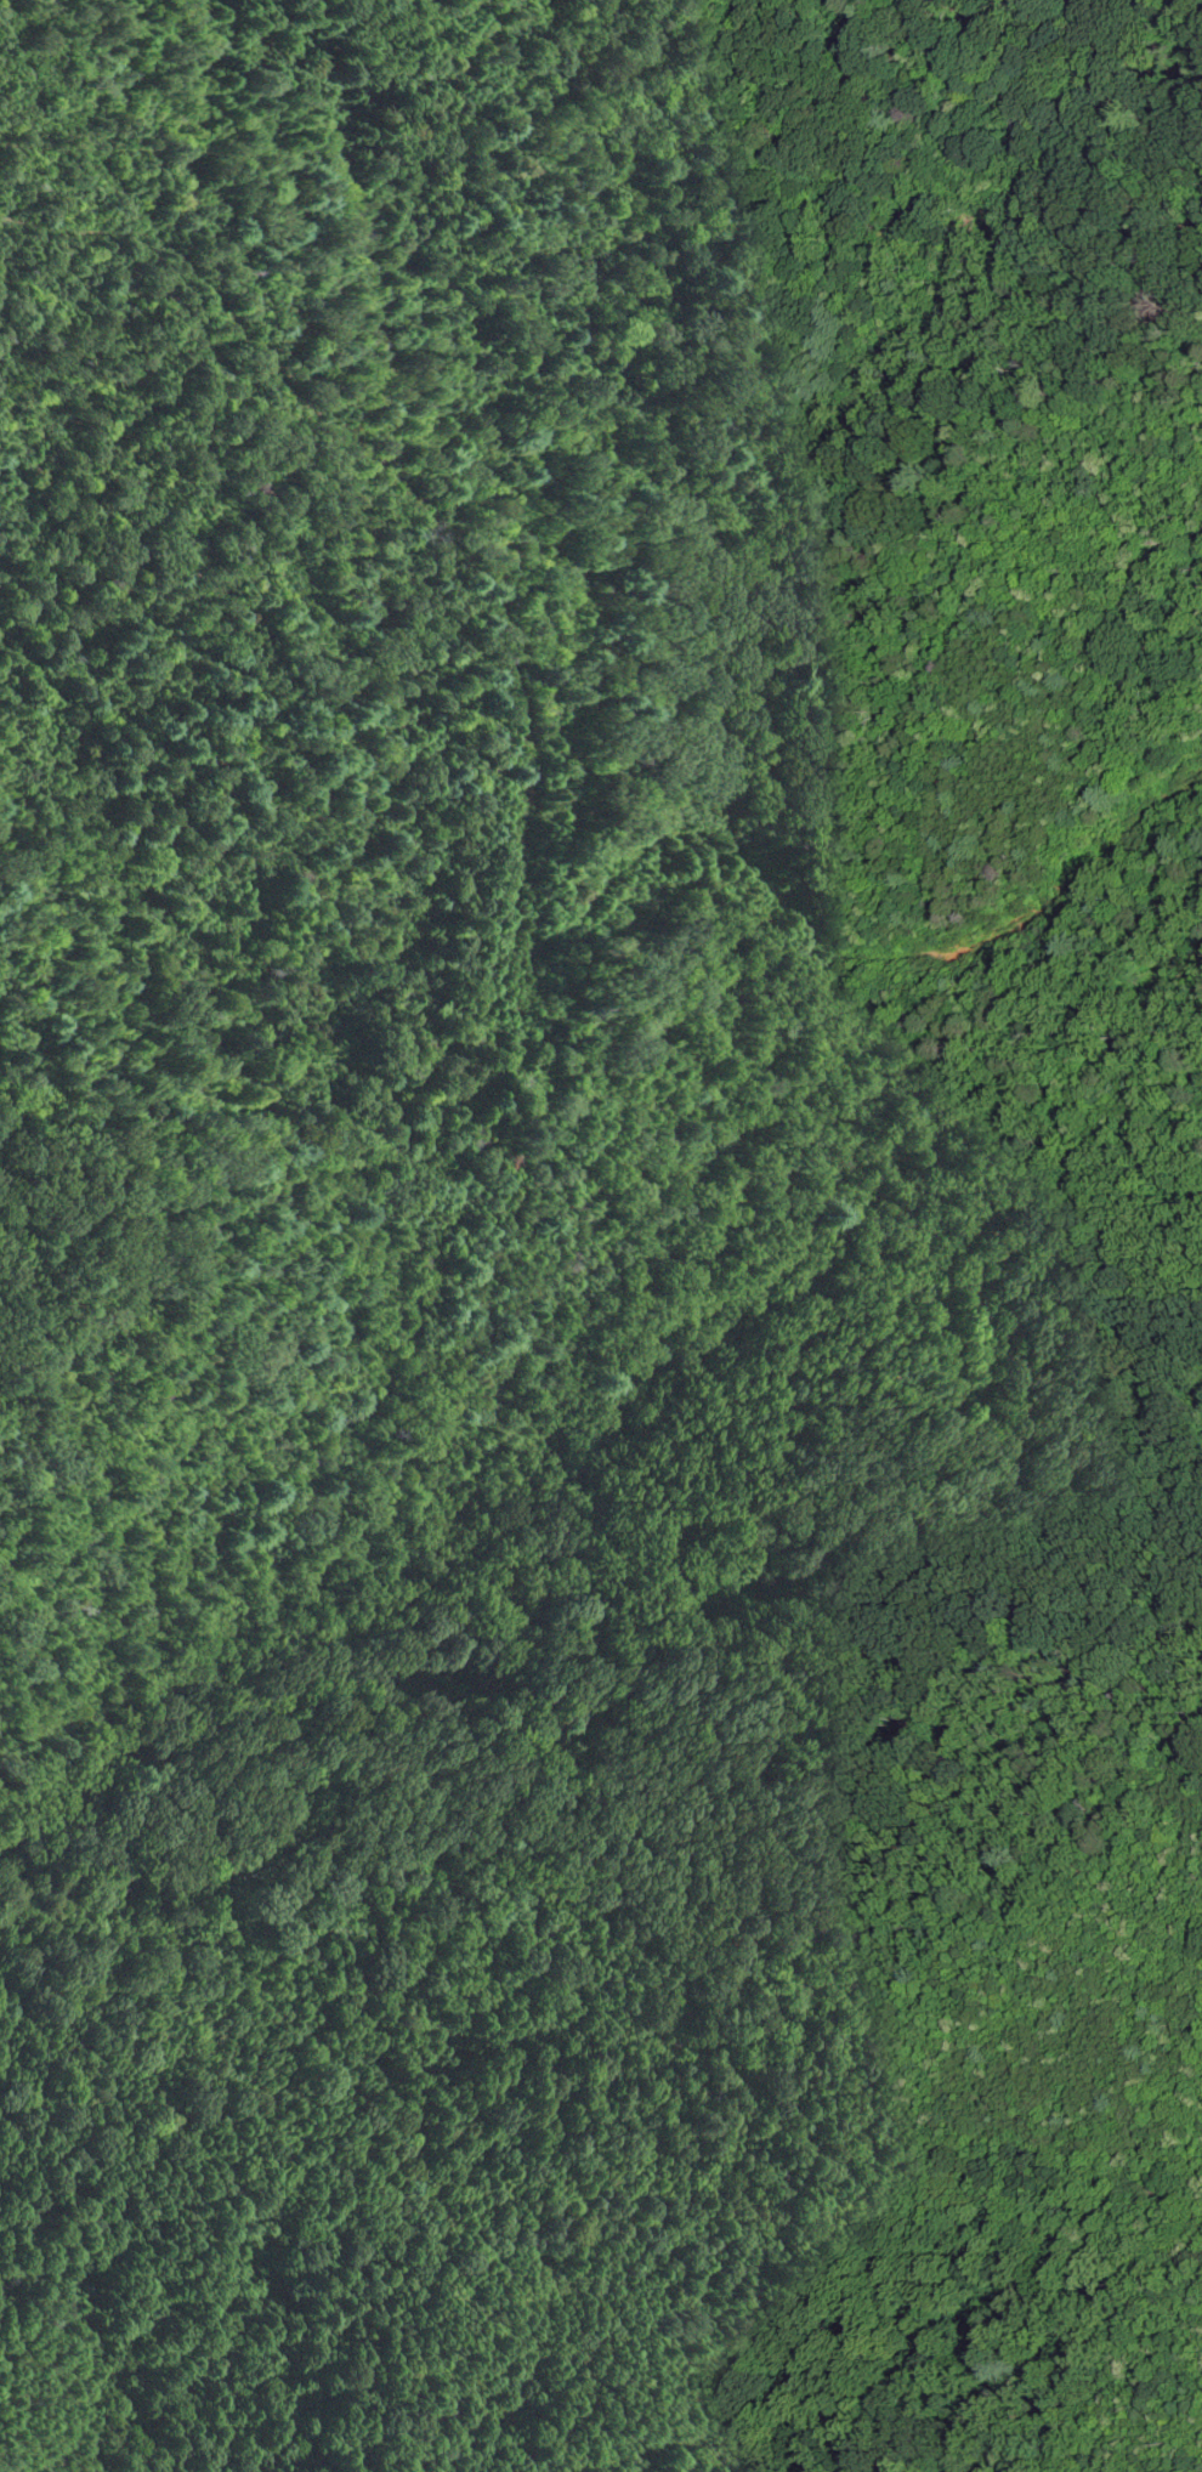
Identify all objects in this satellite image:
park: (471, 582)

